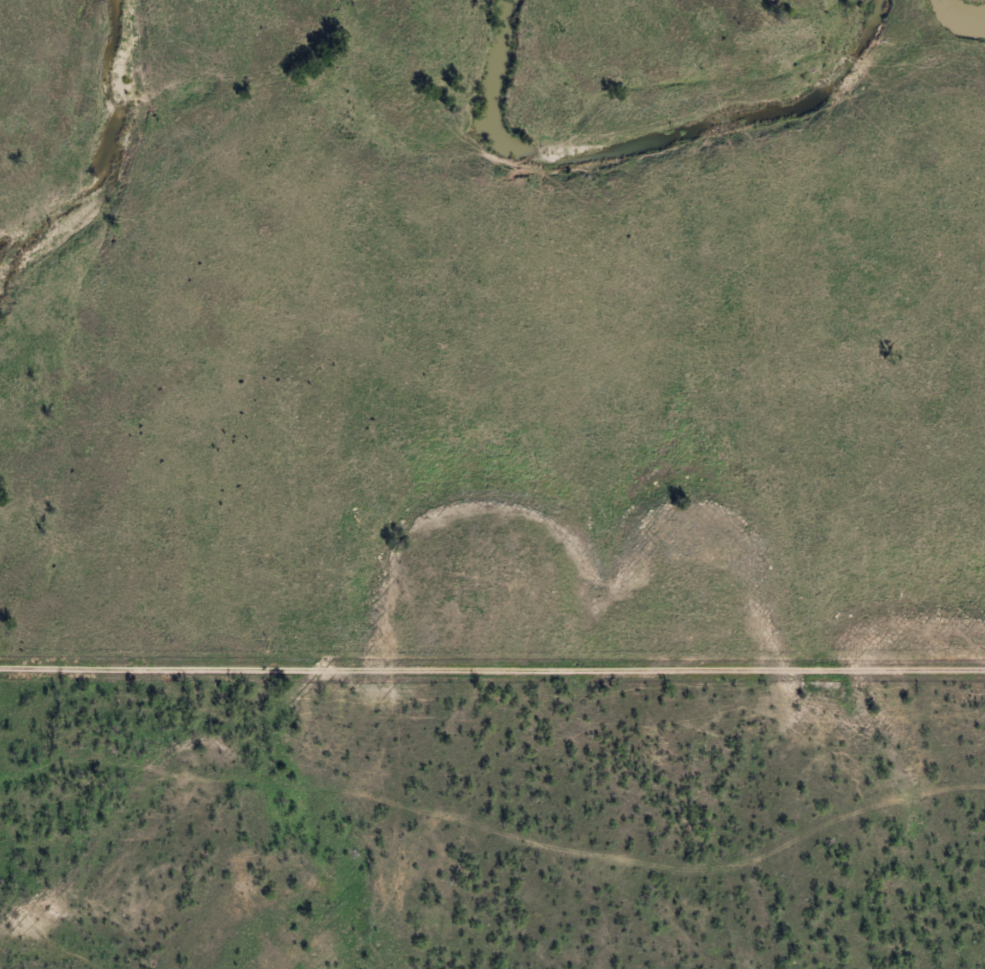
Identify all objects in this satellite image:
road: (492, 668)

